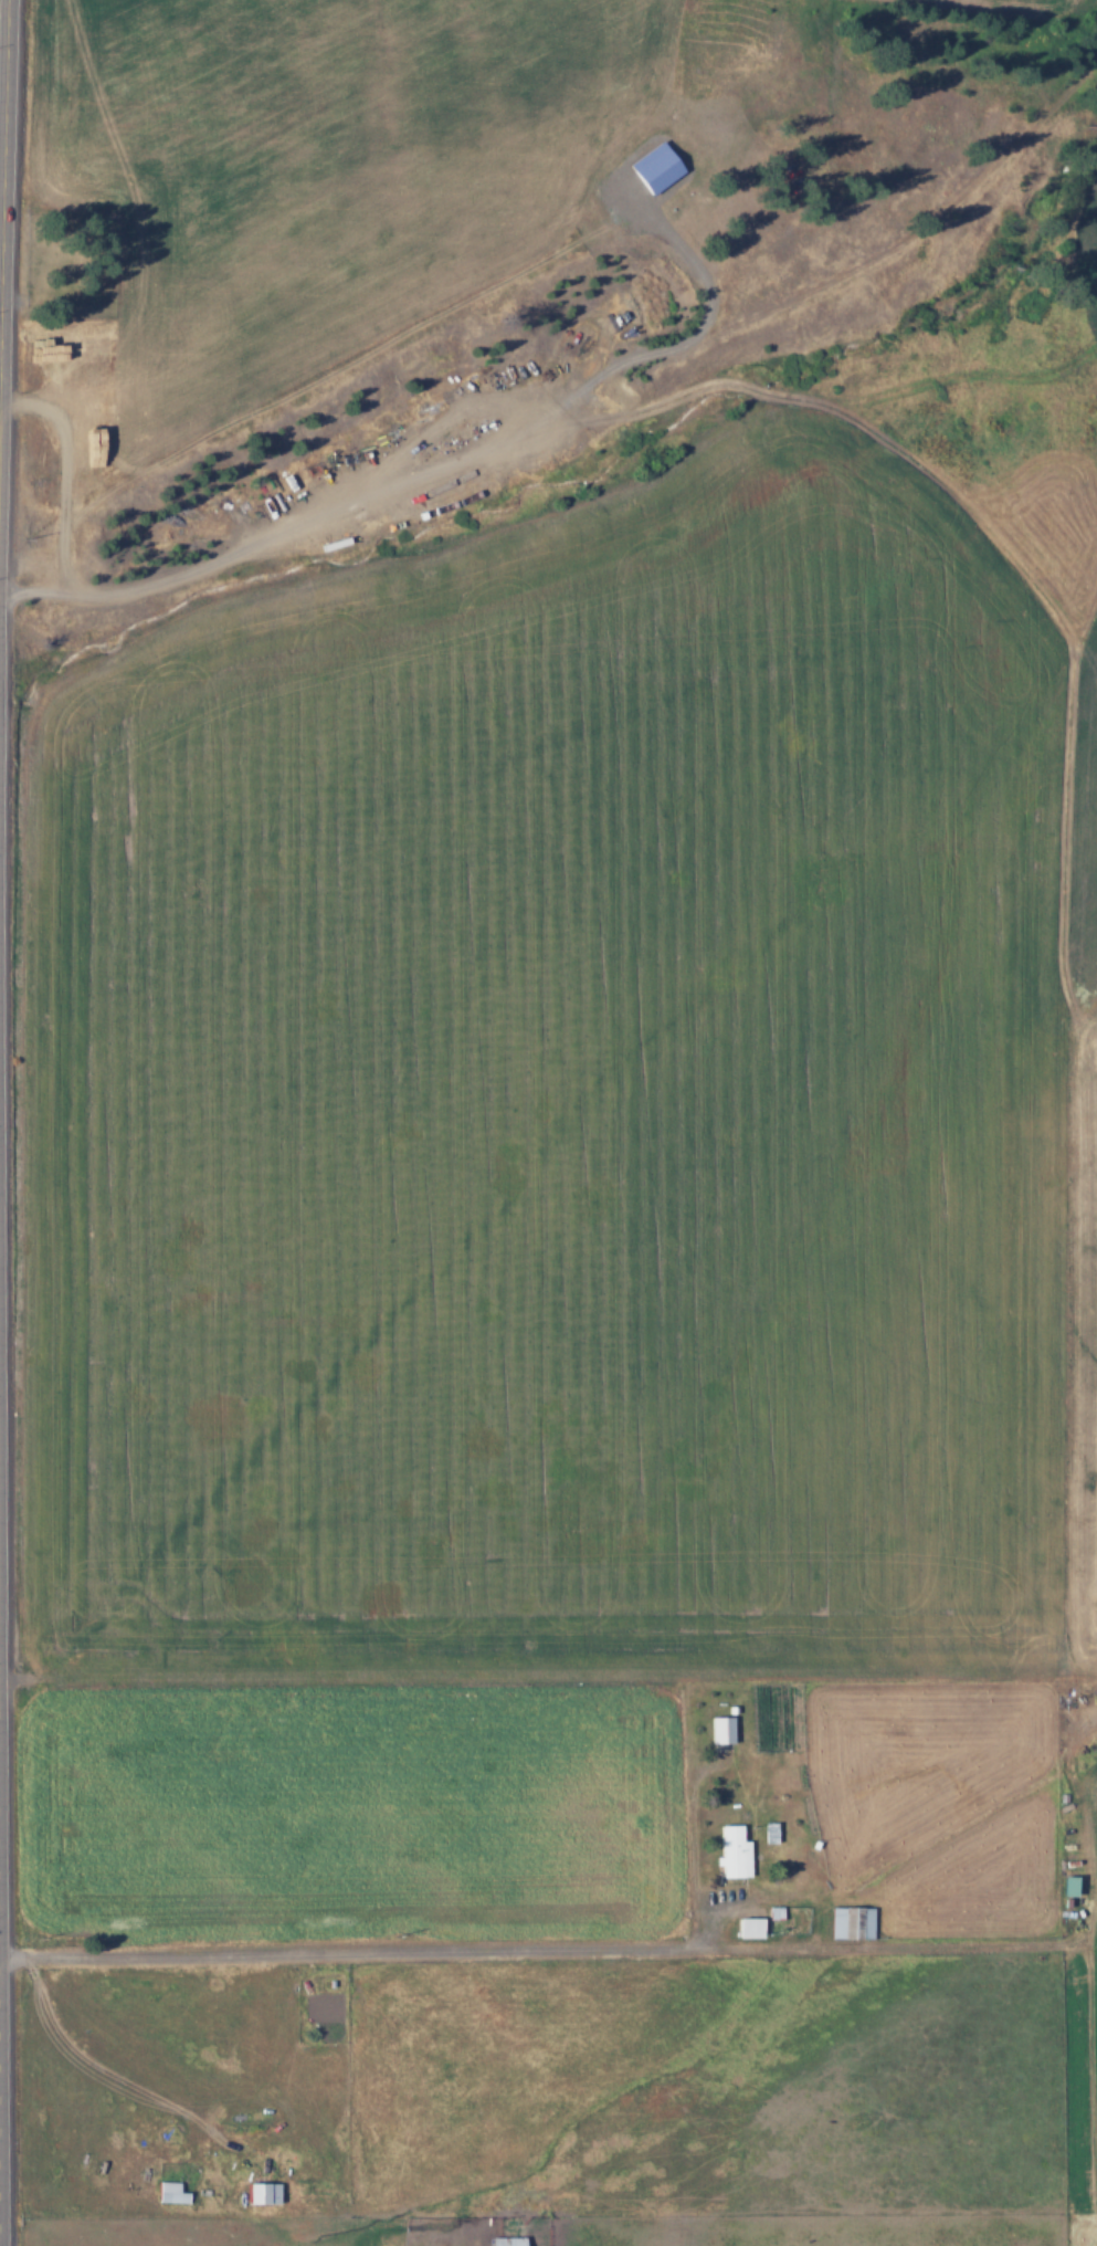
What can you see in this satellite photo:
building: (655, 166)
park: (67, 255)
road: (9, 877)
building: (31, 1516)
building: (35, 1598)
building: (721, 1731)
building: (735, 1851)
building: (1068, 1887)
building: (852, 1922)
building: (749, 1928)
road: (360, 1949)
building: (263, 2192)
building: (171, 2193)
building: (508, 2240)

